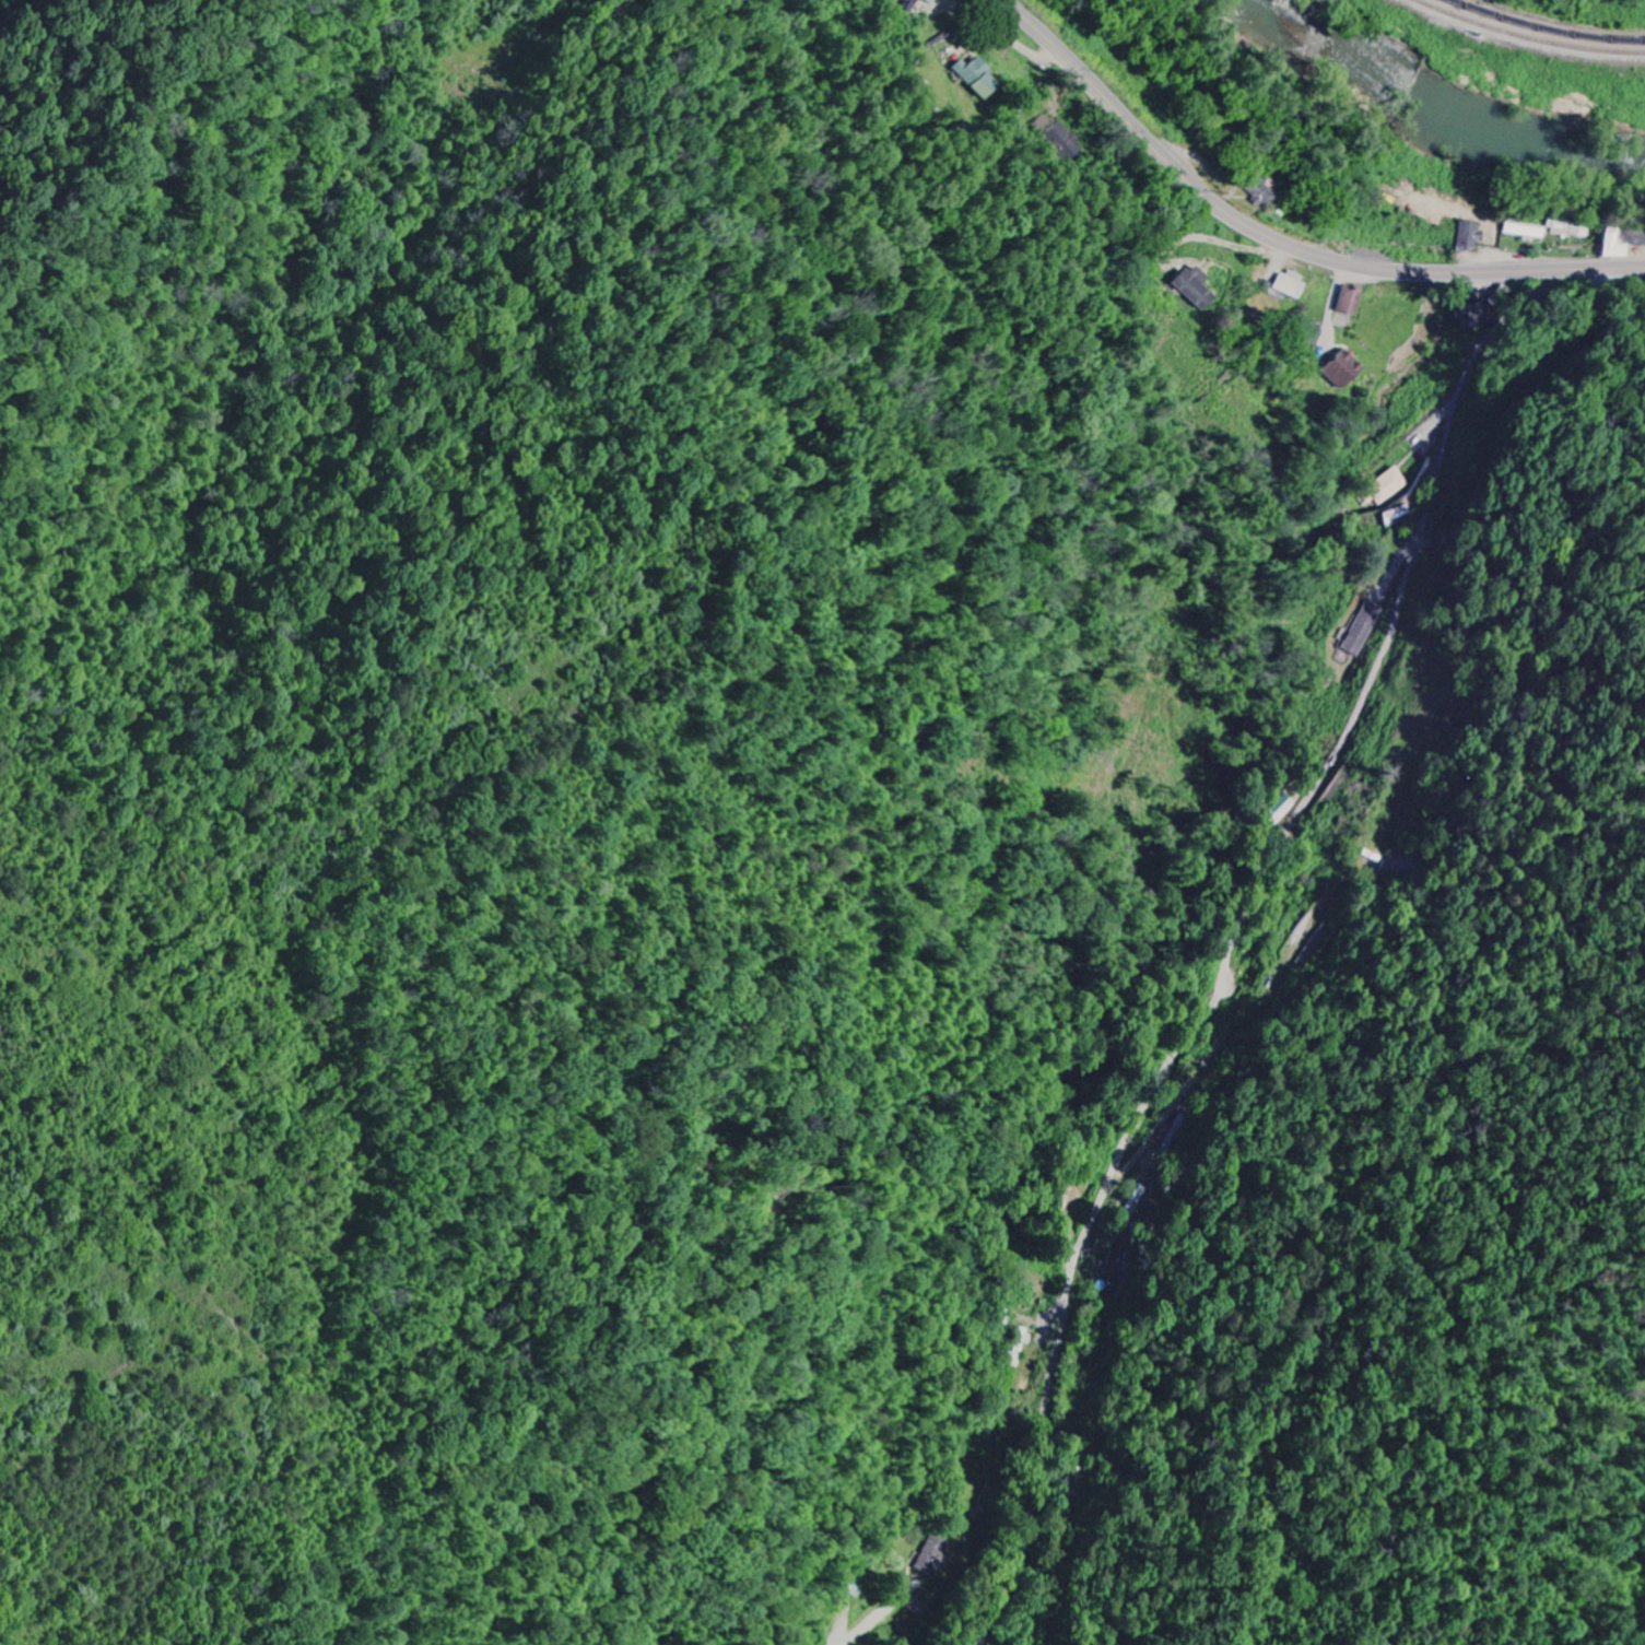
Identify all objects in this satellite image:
building: (915, 1)
railway: (1548, 27)
railway: (1529, 36)
building: (976, 78)
river: (1436, 108)
building: (1261, 193)
building: (1566, 231)
building: (1524, 232)
building: (1469, 236)
road: (1186, 239)
road: (1280, 242)
building: (1621, 243)
building: (1290, 285)
building: (1195, 289)
building: (1350, 301)
road: (1518, 307)
building: (1343, 371)
building: (1383, 489)
building: (1363, 630)
building: (1278, 811)
road: (1229, 952)
road: (1239, 1035)
building: (1018, 1348)
building: (851, 1585)

